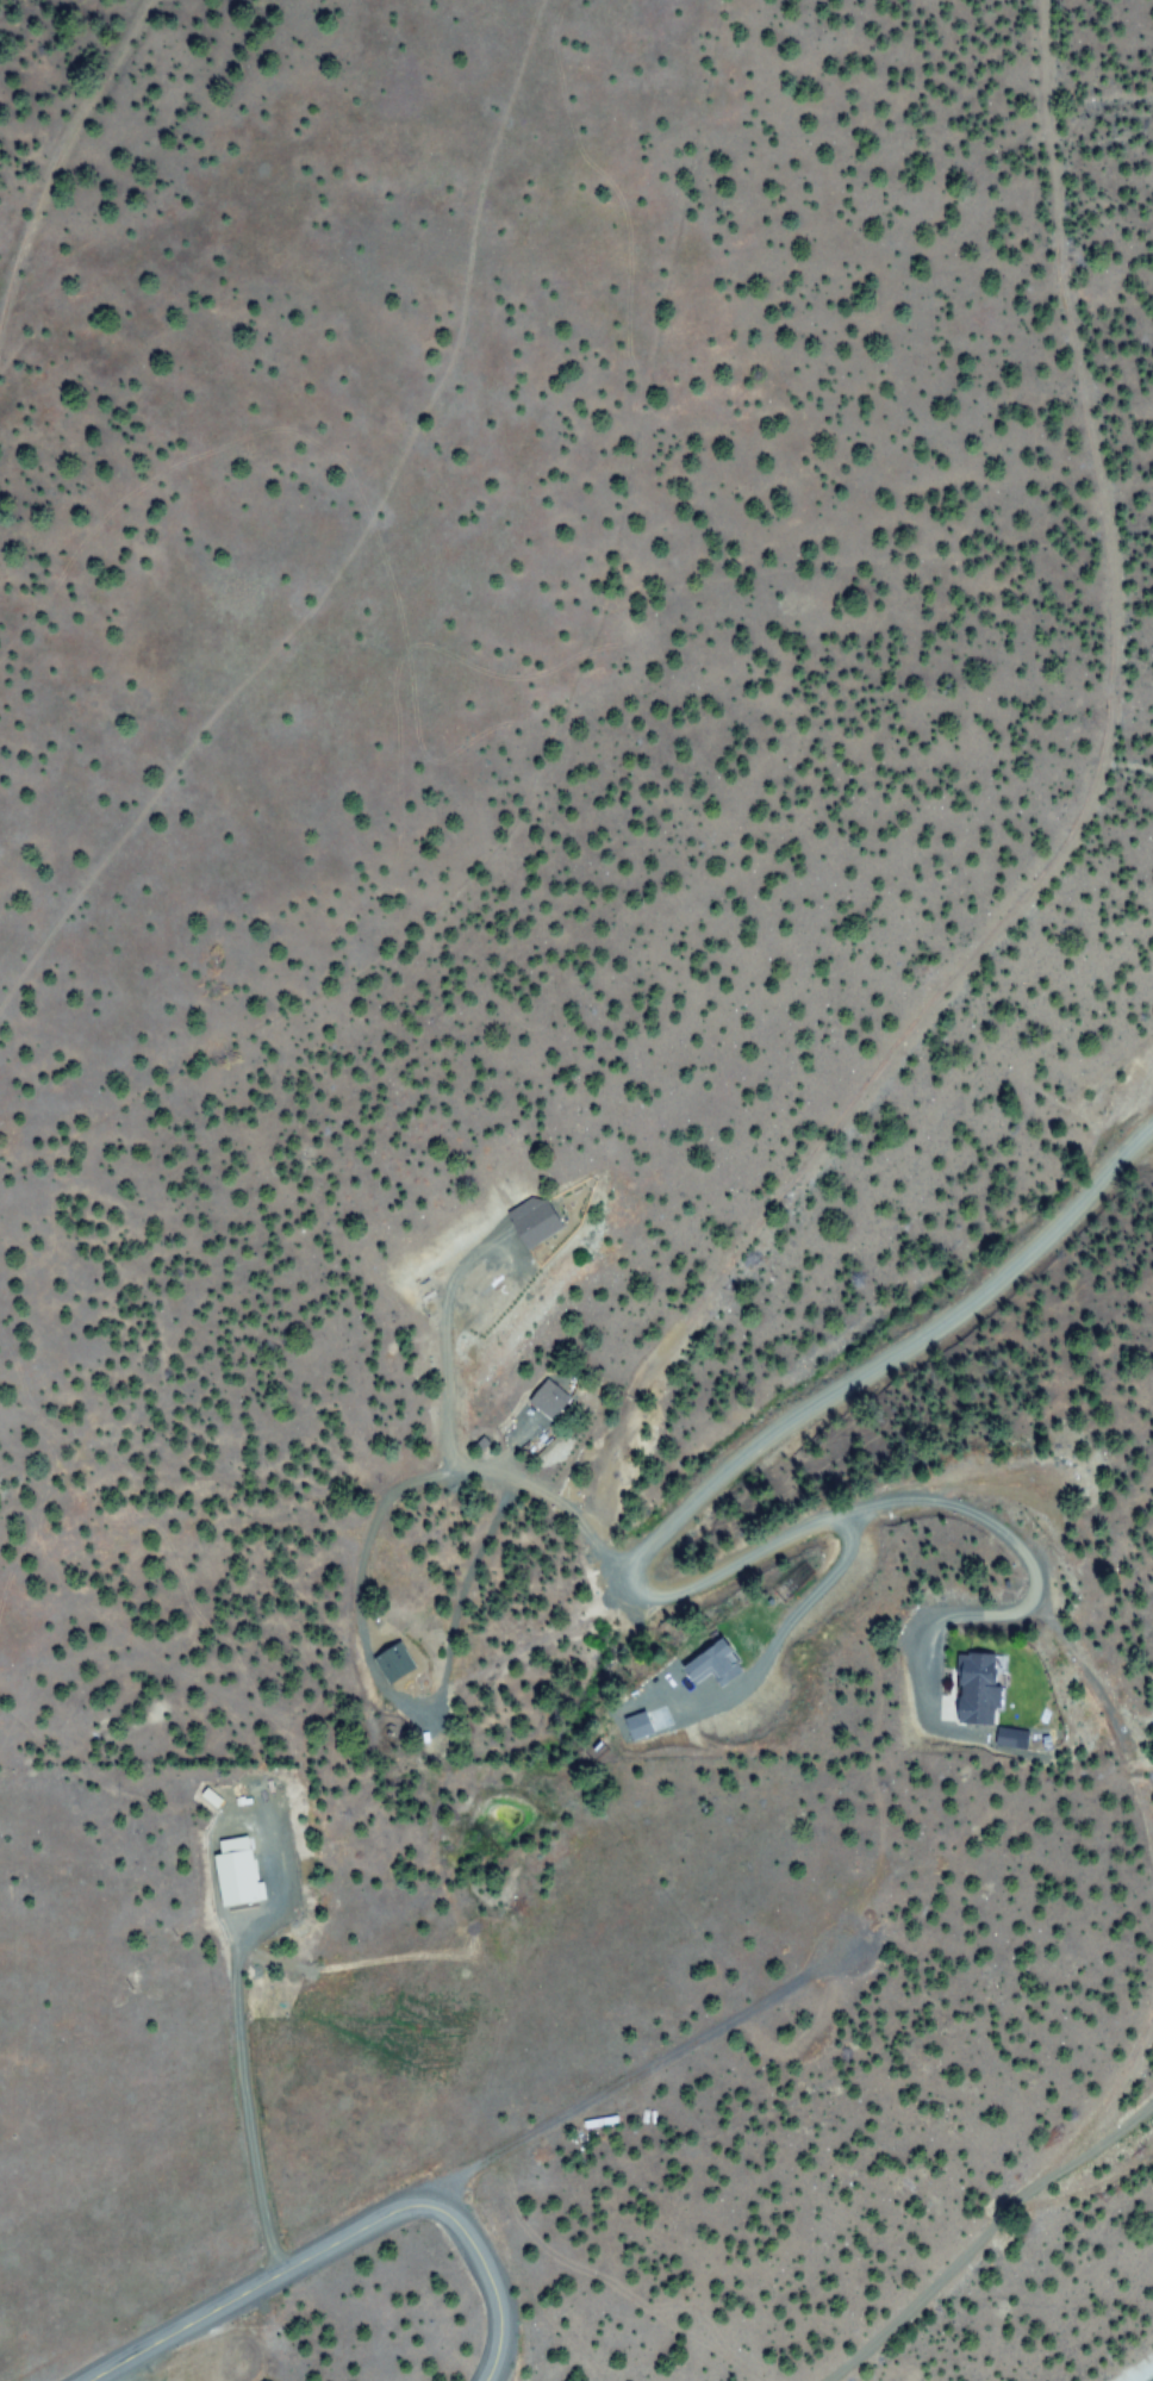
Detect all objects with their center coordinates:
building: (548, 1400)
road: (635, 1560)
building: (966, 1688)
road: (349, 2232)

